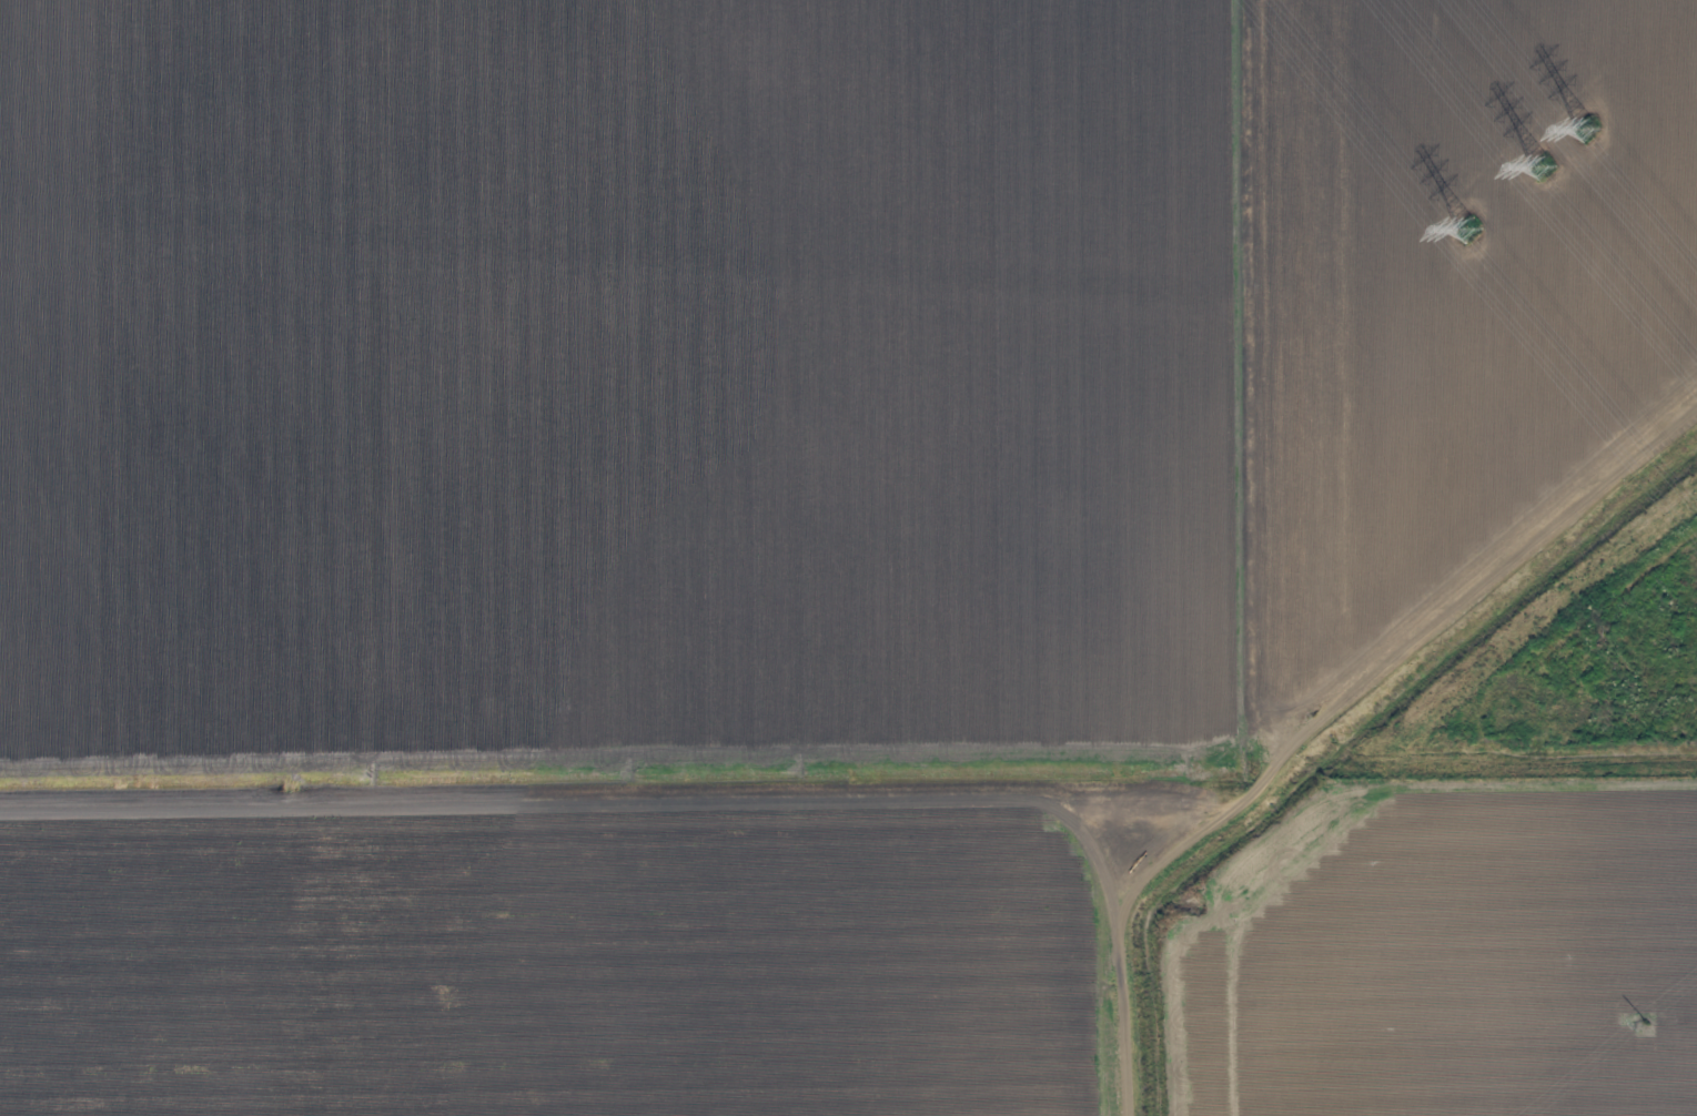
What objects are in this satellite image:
power tower: (1586, 132)
power tower: (1543, 170)
power tower: (1469, 233)
power tower: (1646, 1024)

